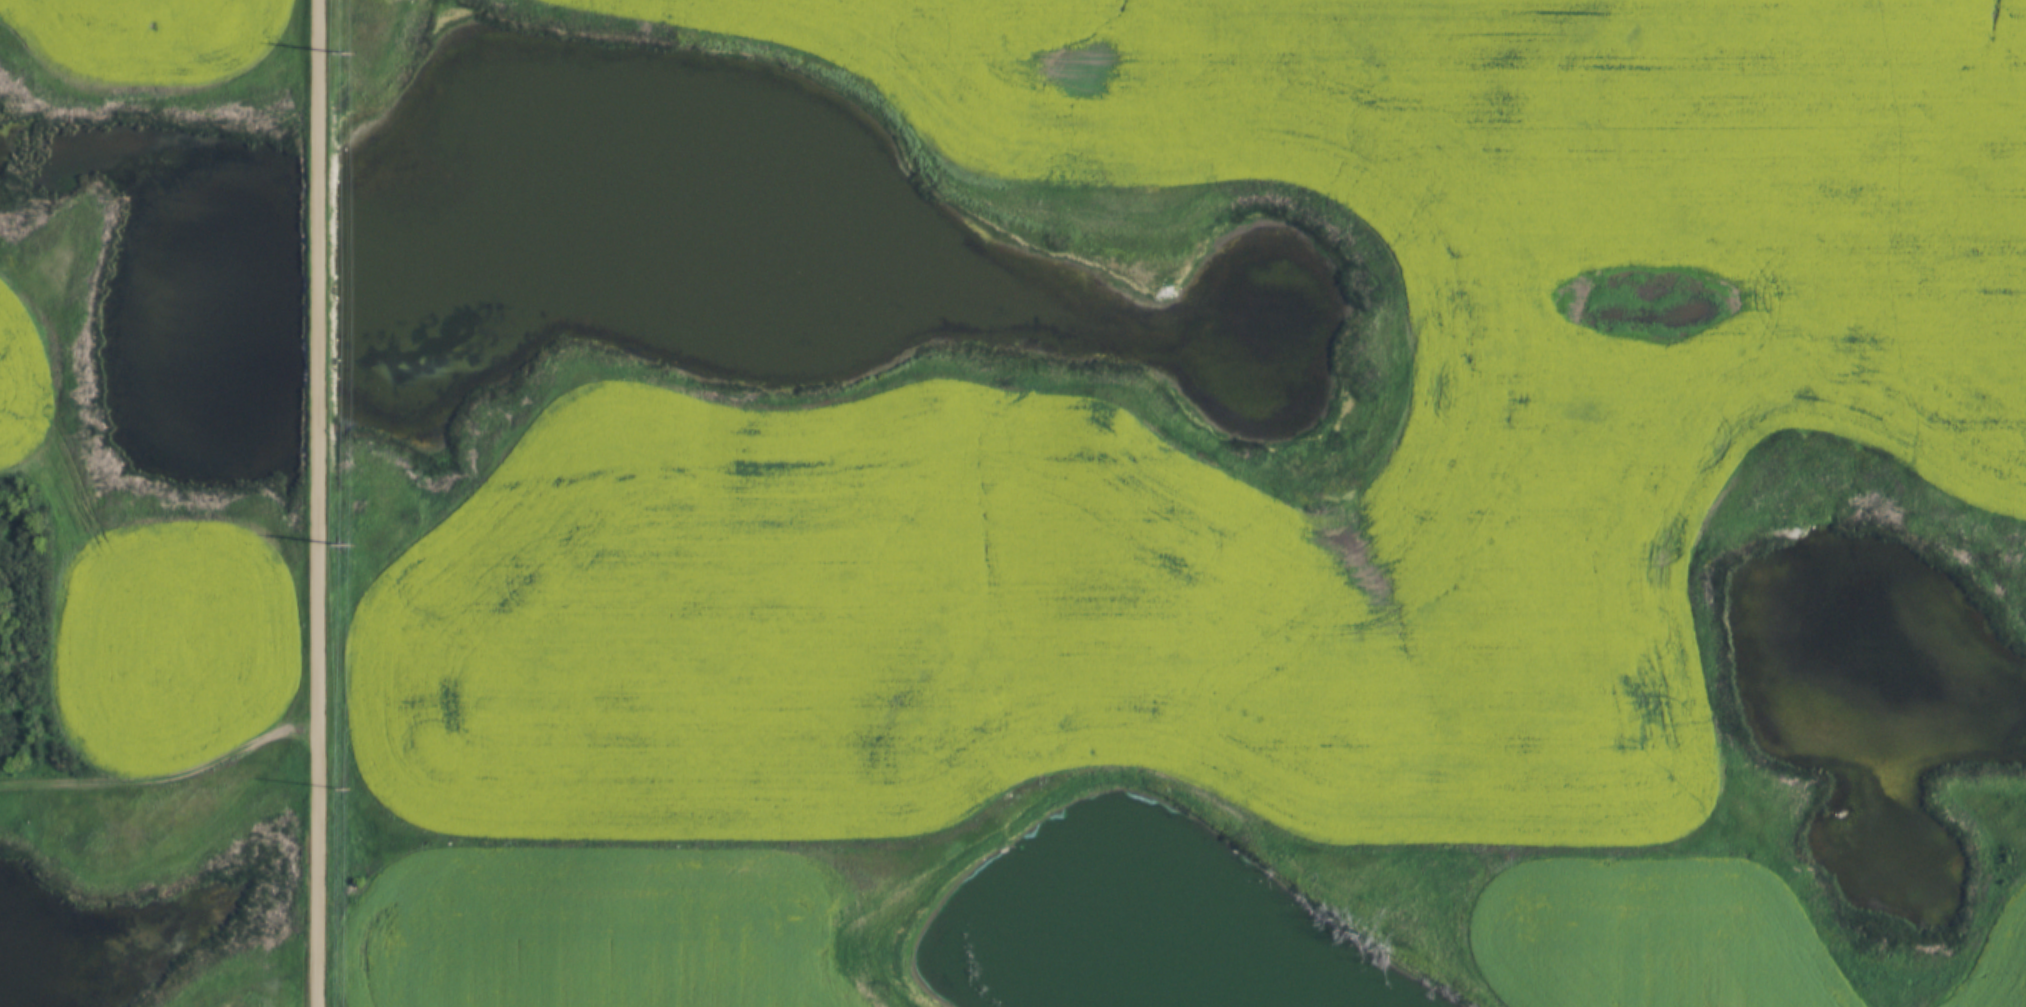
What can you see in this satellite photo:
road: (318, 503)
road: (175, 777)

